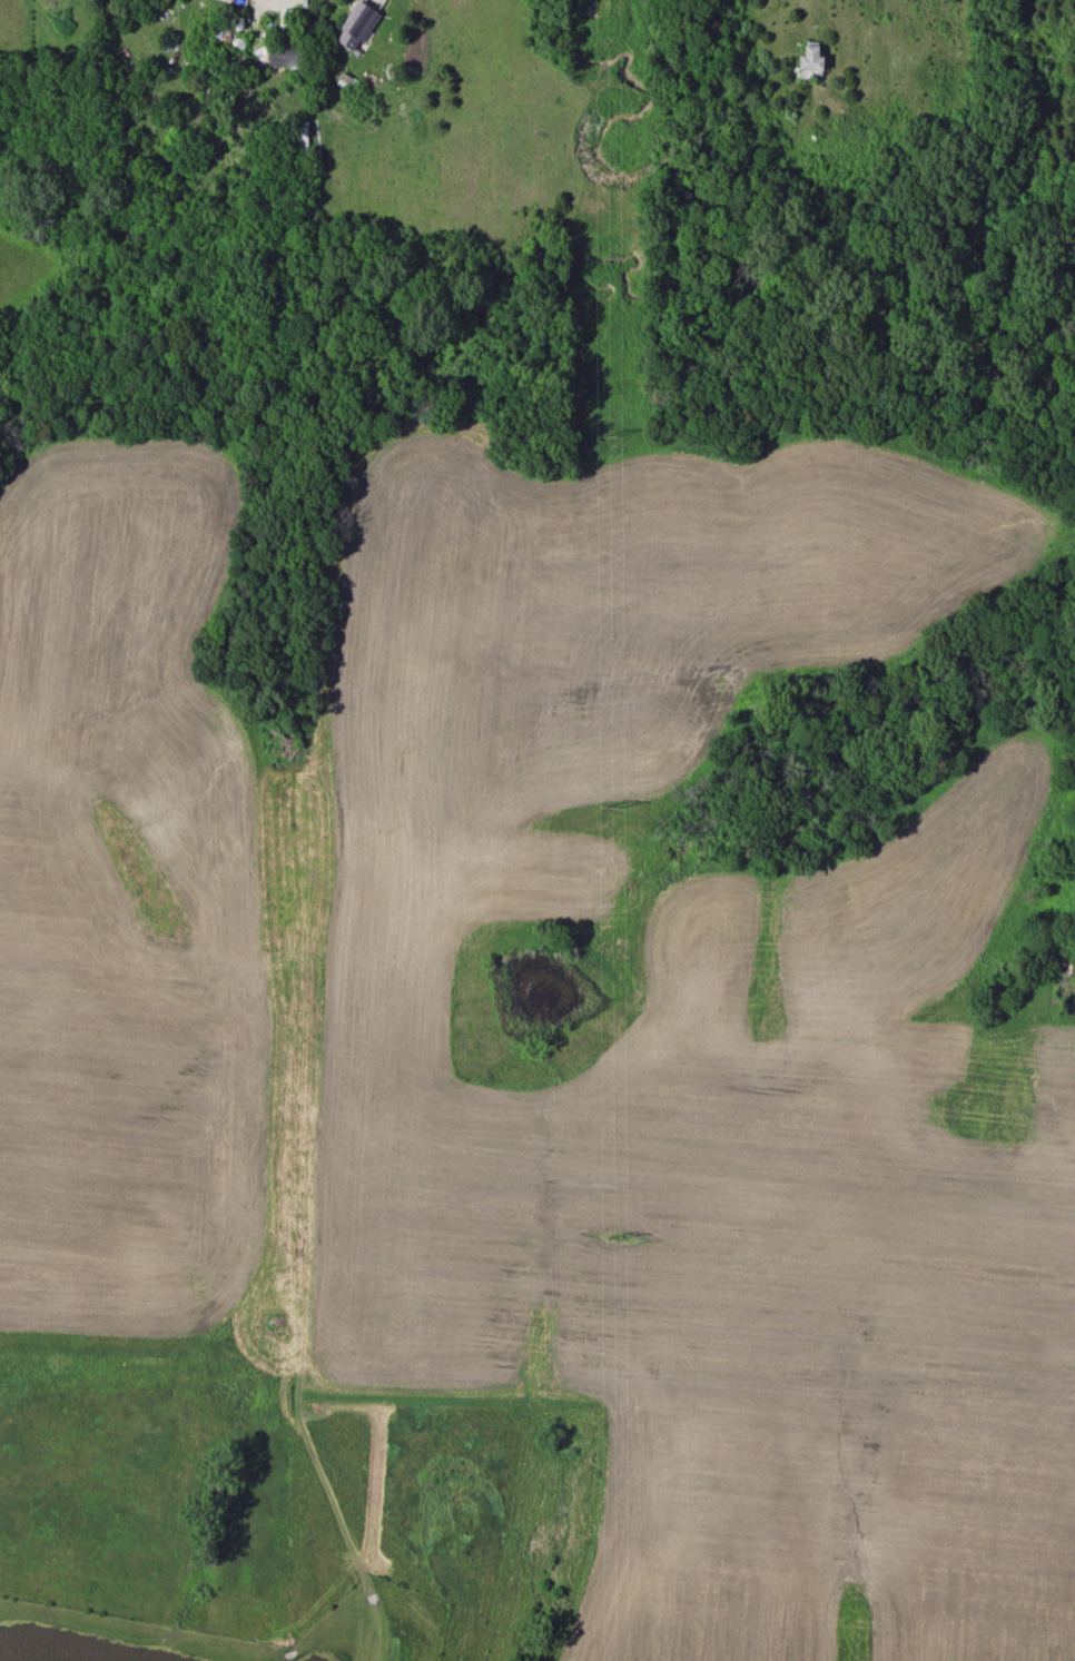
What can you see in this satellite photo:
road: (269, 0)
building: (359, 23)
building: (283, 59)
building: (810, 61)
power tower: (608, 436)
power tower: (610, 809)
power tower: (612, 1239)

